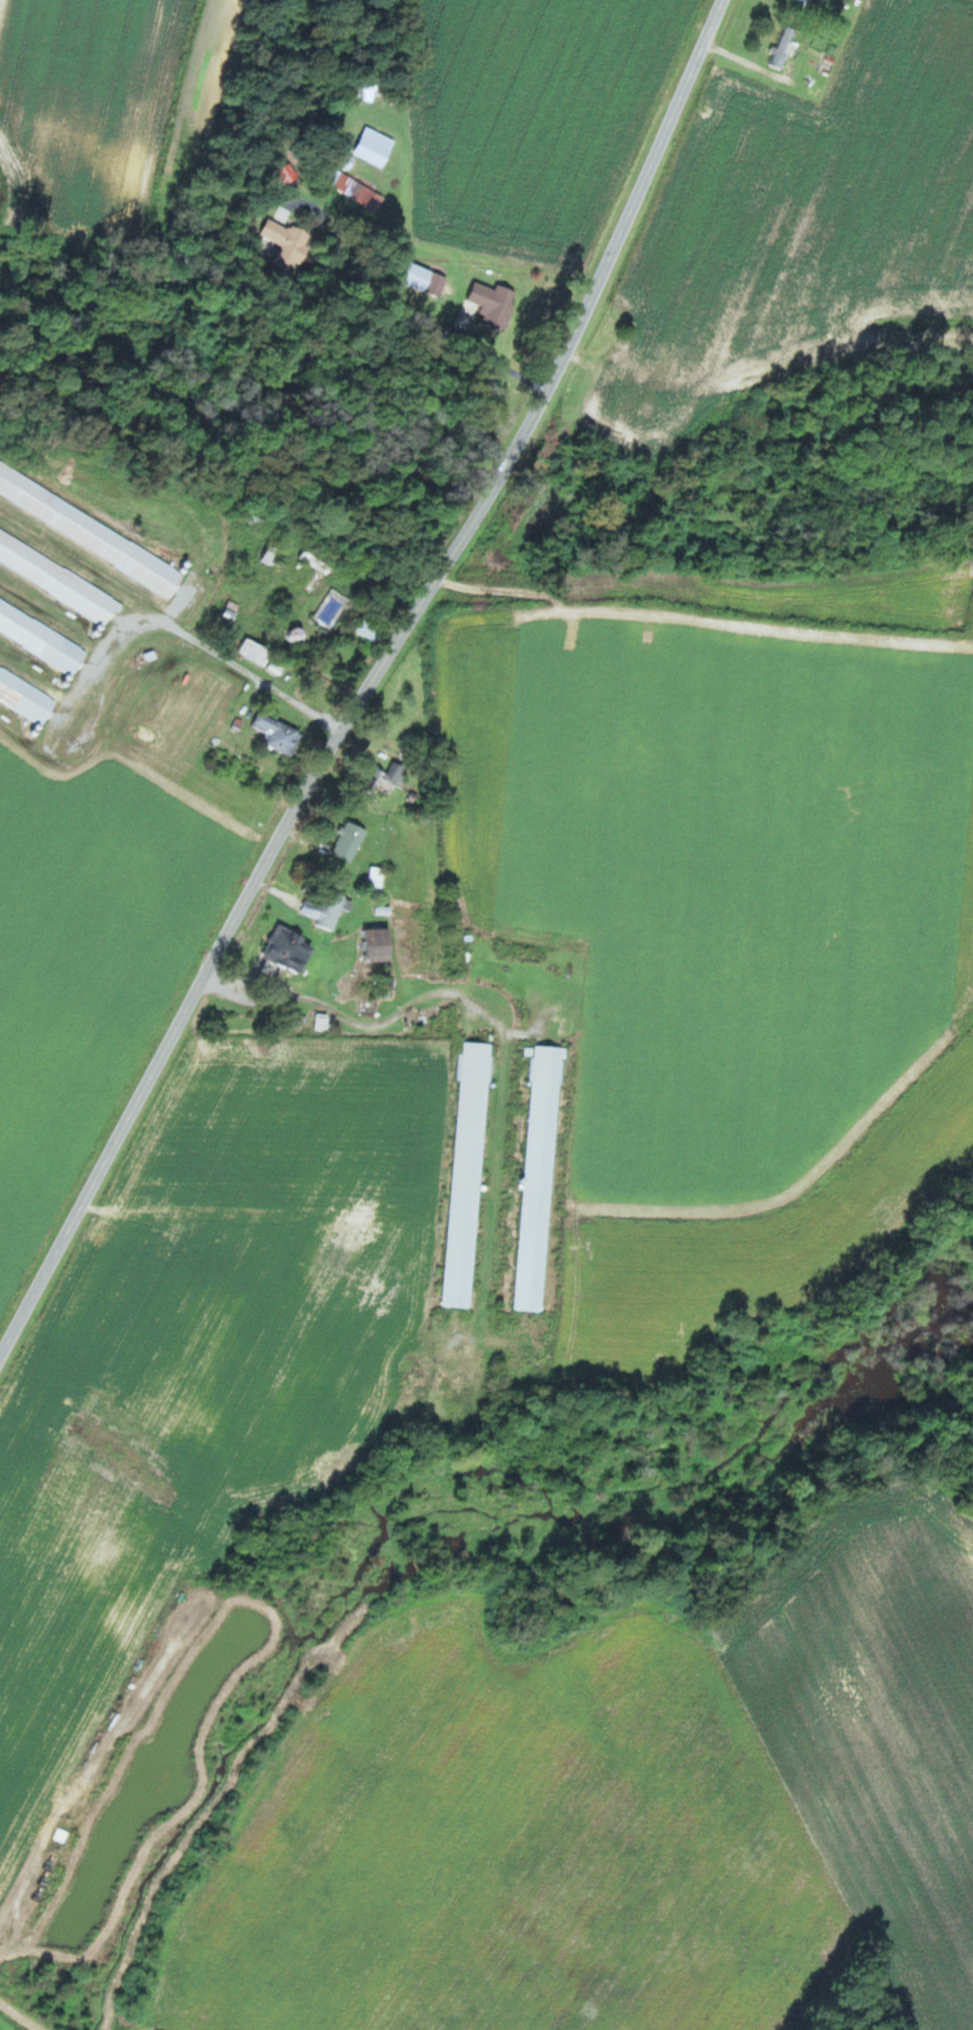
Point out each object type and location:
building: (805, 1)
building: (785, 46)
building: (368, 90)
building: (377, 146)
building: (367, 194)
building: (290, 241)
building: (428, 279)
building: (496, 303)
building: (91, 529)
building: (319, 559)
building: (59, 575)
building: (232, 613)
building: (371, 629)
road: (193, 633)
building: (42, 635)
building: (298, 635)
building: (257, 651)
building: (279, 664)
road: (379, 685)
building: (27, 691)
building: (279, 734)
building: (387, 777)
building: (351, 841)
building: (377, 877)
building: (329, 910)
building: (382, 945)
building: (292, 949)
road: (381, 1012)
building: (424, 1020)
building: (469, 1174)
building: (540, 1178)
road: (29, 1228)

